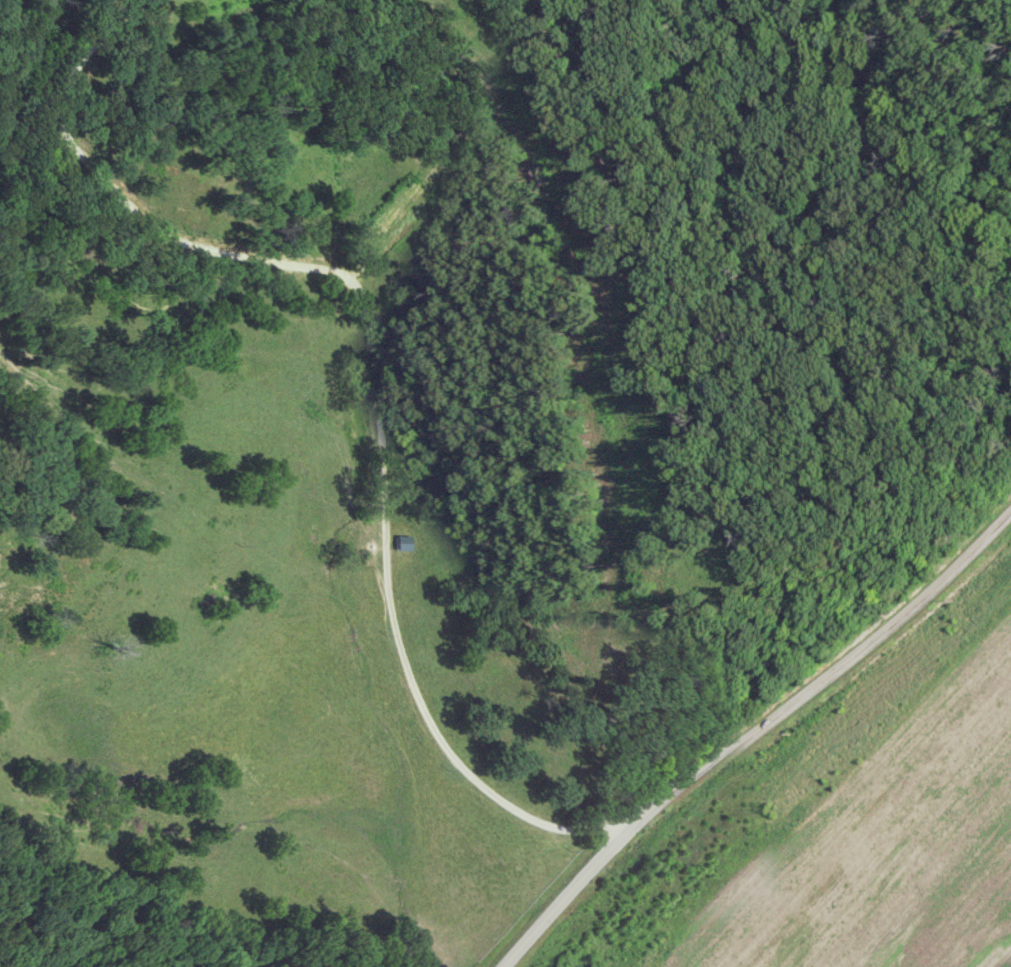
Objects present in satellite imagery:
road: (1008, 2)
road: (375, 377)
road: (743, 718)

